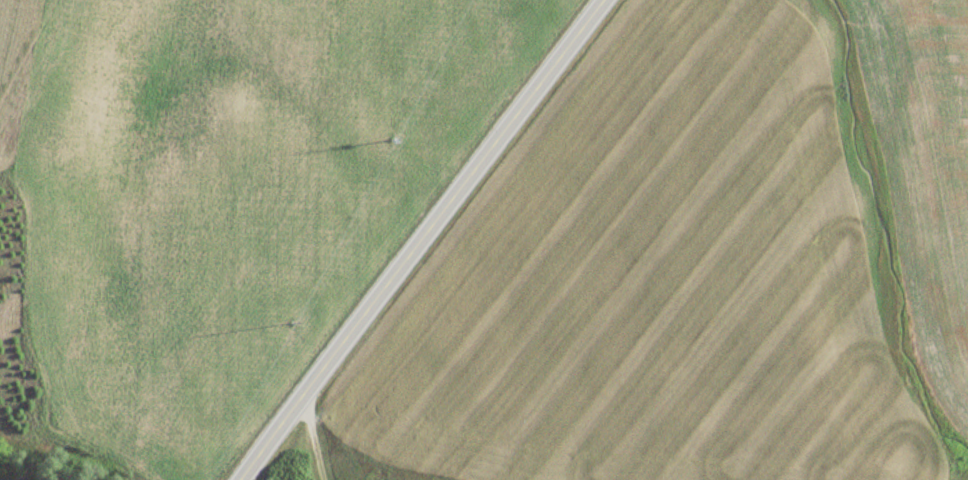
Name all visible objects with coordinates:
road: (421, 238)

